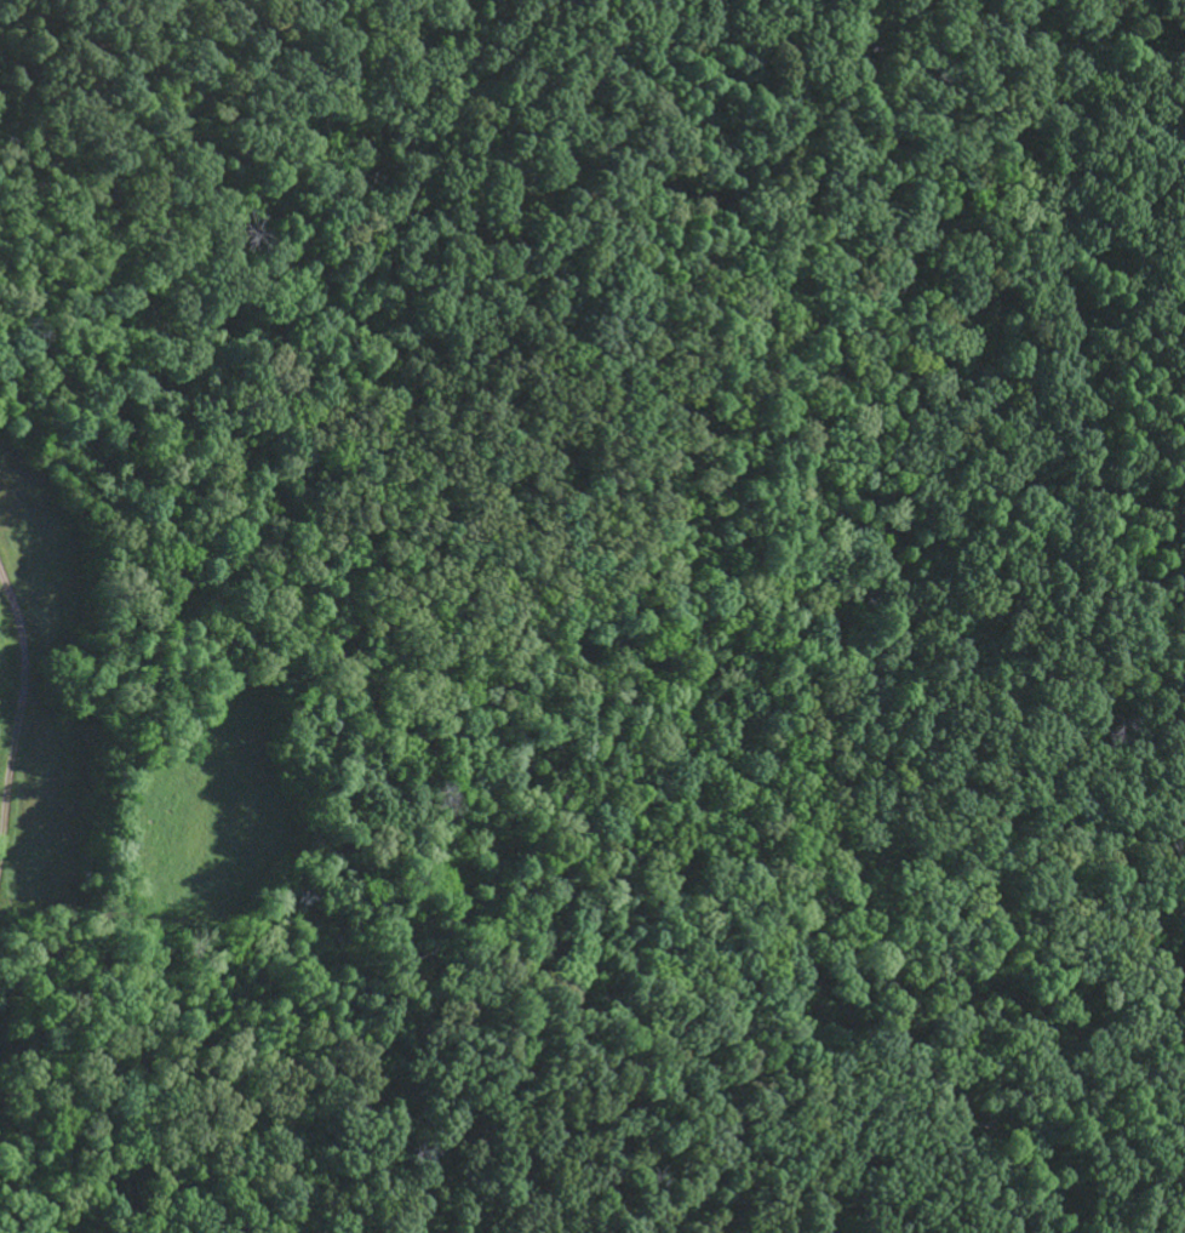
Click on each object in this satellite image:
road: (19, 709)

